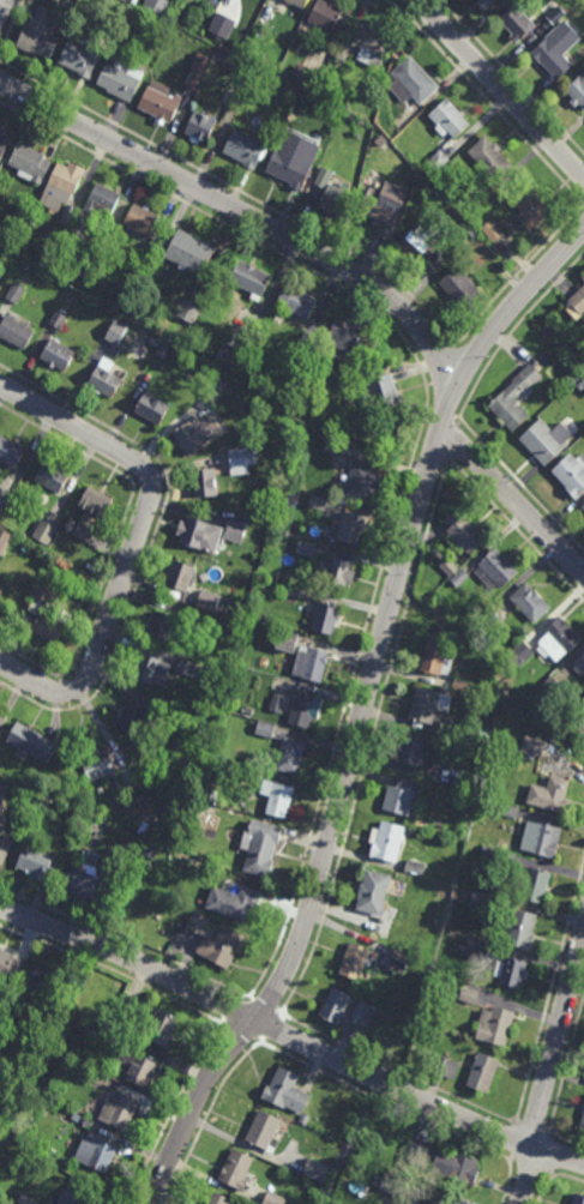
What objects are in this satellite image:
building: (132, 1)
building: (228, 2)
building: (297, 2)
building: (212, 4)
building: (483, 4)
building: (157, 5)
road: (2, 6)
building: (326, 14)
building: (556, 14)
building: (516, 22)
building: (38, 35)
building: (366, 46)
building: (558, 48)
building: (80, 56)
building: (198, 70)
building: (306, 77)
building: (120, 78)
building: (411, 82)
road: (501, 86)
building: (577, 90)
building: (236, 100)
building: (159, 101)
building: (448, 118)
building: (200, 125)
building: (4, 139)
building: (246, 148)
building: (294, 157)
building: (490, 157)
building: (438, 159)
building: (30, 162)
building: (62, 183)
building: (333, 193)
building: (102, 201)
building: (480, 204)
building: (385, 206)
building: (531, 207)
building: (68, 213)
building: (139, 222)
building: (98, 229)
building: (492, 230)
building: (452, 231)
building: (470, 234)
building: (417, 241)
building: (191, 251)
building: (90, 261)
road: (349, 270)
building: (583, 276)
building: (251, 277)
building: (583, 277)
building: (459, 285)
building: (16, 293)
building: (297, 300)
building: (577, 303)
building: (186, 309)
building: (58, 318)
building: (14, 331)
building: (116, 331)
building: (348, 339)
building: (153, 341)
building: (305, 344)
building: (56, 354)
building: (230, 357)
building: (104, 380)
building: (580, 385)
building: (219, 393)
building: (383, 393)
building: (516, 396)
building: (152, 408)
building: (342, 431)
building: (194, 433)
building: (547, 439)
building: (391, 443)
building: (335, 445)
building: (11, 451)
building: (242, 459)
building: (572, 474)
building: (52, 475)
building: (361, 480)
building: (205, 482)
building: (5, 487)
building: (96, 501)
building: (2, 502)
building: (318, 502)
road: (147, 504)
building: (583, 506)
building: (351, 526)
building: (235, 529)
building: (85, 530)
building: (44, 531)
building: (193, 531)
building: (464, 531)
building: (4, 540)
building: (305, 548)
building: (496, 568)
building: (454, 571)
building: (339, 573)
building: (181, 576)
building: (291, 589)
building: (1, 590)
building: (47, 595)
building: (207, 600)
building: (530, 602)
building: (327, 618)
building: (162, 625)
building: (48, 627)
building: (233, 630)
building: (559, 639)
building: (288, 640)
building: (522, 652)
building: (437, 657)
building: (311, 664)
building: (579, 666)
building: (186, 667)
building: (150, 668)
road: (35, 682)
building: (550, 688)
building: (277, 703)
building: (431, 705)
building: (302, 709)
building: (0, 710)
road: (362, 712)
building: (131, 717)
building: (582, 727)
building: (265, 729)
building: (477, 733)
building: (0, 736)
building: (34, 741)
building: (534, 745)
building: (415, 751)
building: (290, 754)
building: (101, 765)
building: (468, 779)
building: (215, 783)
building: (4, 788)
building: (558, 790)
building: (211, 795)
building: (401, 795)
building: (277, 796)
building: (43, 805)
building: (508, 807)
building: (143, 826)
building: (504, 826)
building: (541, 837)
building: (387, 839)
building: (4, 842)
building: (130, 845)
building: (260, 845)
building: (210, 849)
building: (487, 849)
building: (151, 850)
building: (504, 855)
building: (37, 862)
building: (415, 866)
building: (92, 879)
building: (534, 883)
building: (373, 891)
building: (478, 898)
building: (234, 902)
building: (520, 928)
building: (216, 939)
building: (478, 949)
building: (355, 961)
building: (399, 961)
building: (10, 965)
building: (512, 970)
building: (41, 976)
building: (469, 994)
building: (336, 1005)
building: (363, 1013)
building: (164, 1021)
building: (495, 1023)
building: (112, 1035)
road: (291, 1037)
building: (138, 1066)
building: (447, 1067)
road: (549, 1070)
building: (483, 1071)
building: (288, 1092)
building: (28, 1103)
building: (583, 1109)
building: (120, 1112)
building: (583, 1125)
building: (264, 1130)
building: (96, 1152)
road: (500, 1155)
building: (445, 1161)
building: (236, 1169)
building: (313, 1170)
building: (393, 1184)
building: (68, 1198)
building: (273, 1198)
building: (26, 1199)
building: (217, 1199)
building: (578, 1199)
building: (442, 1200)
building: (422, 1203)

